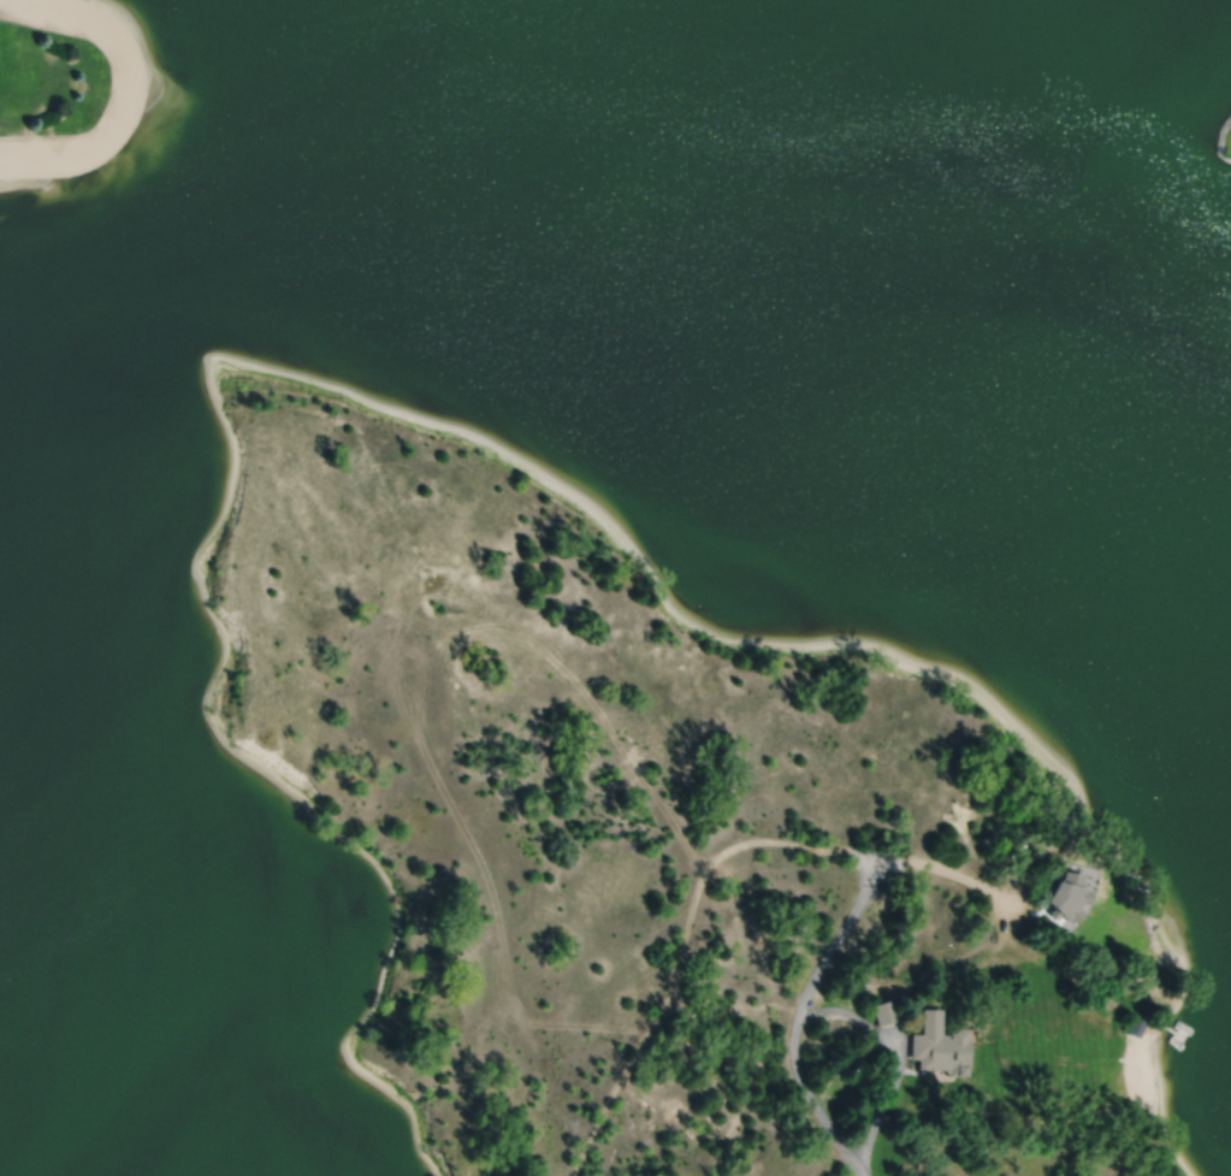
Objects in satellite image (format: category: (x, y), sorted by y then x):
road: (523, 638)
building: (1066, 894)
road: (683, 940)
road: (828, 951)
building: (880, 1009)
building: (1136, 1021)
building: (935, 1044)
road: (890, 1056)

